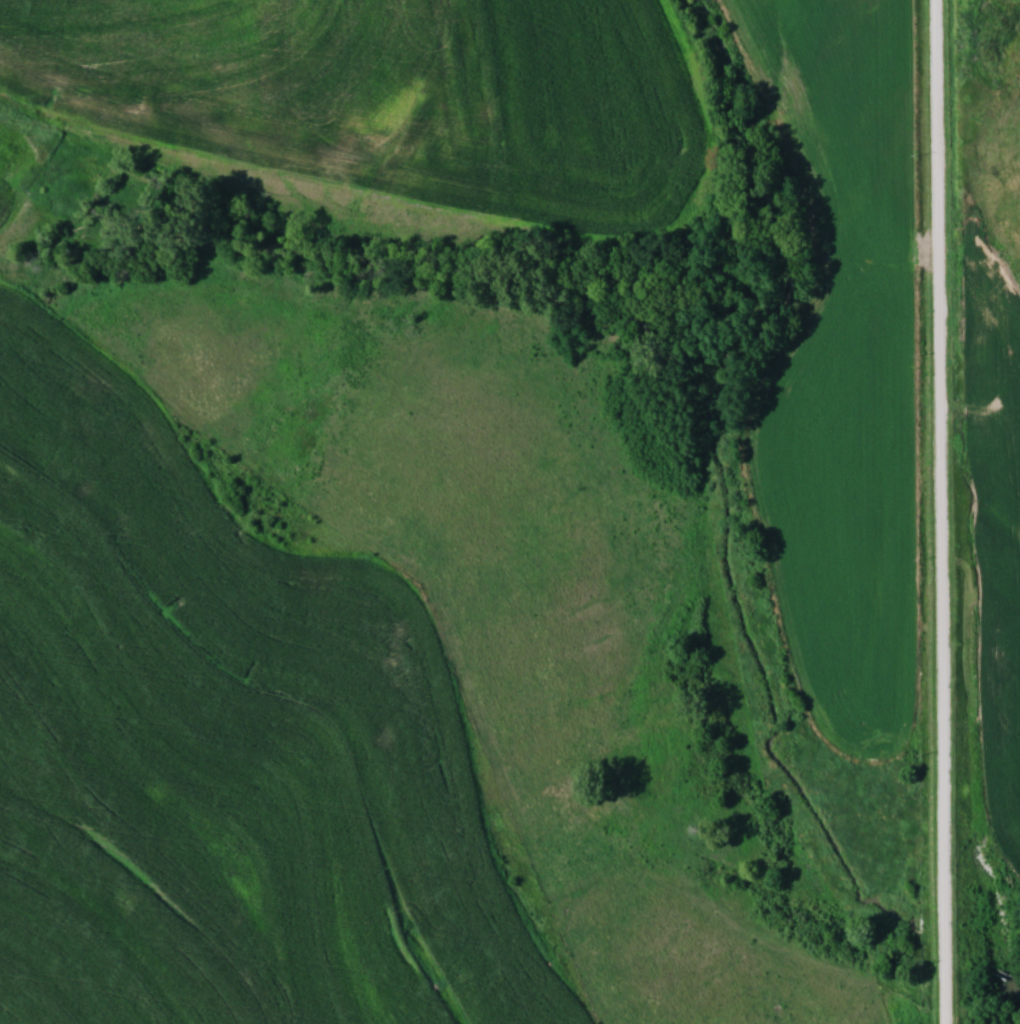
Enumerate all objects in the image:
road: (945, 511)

